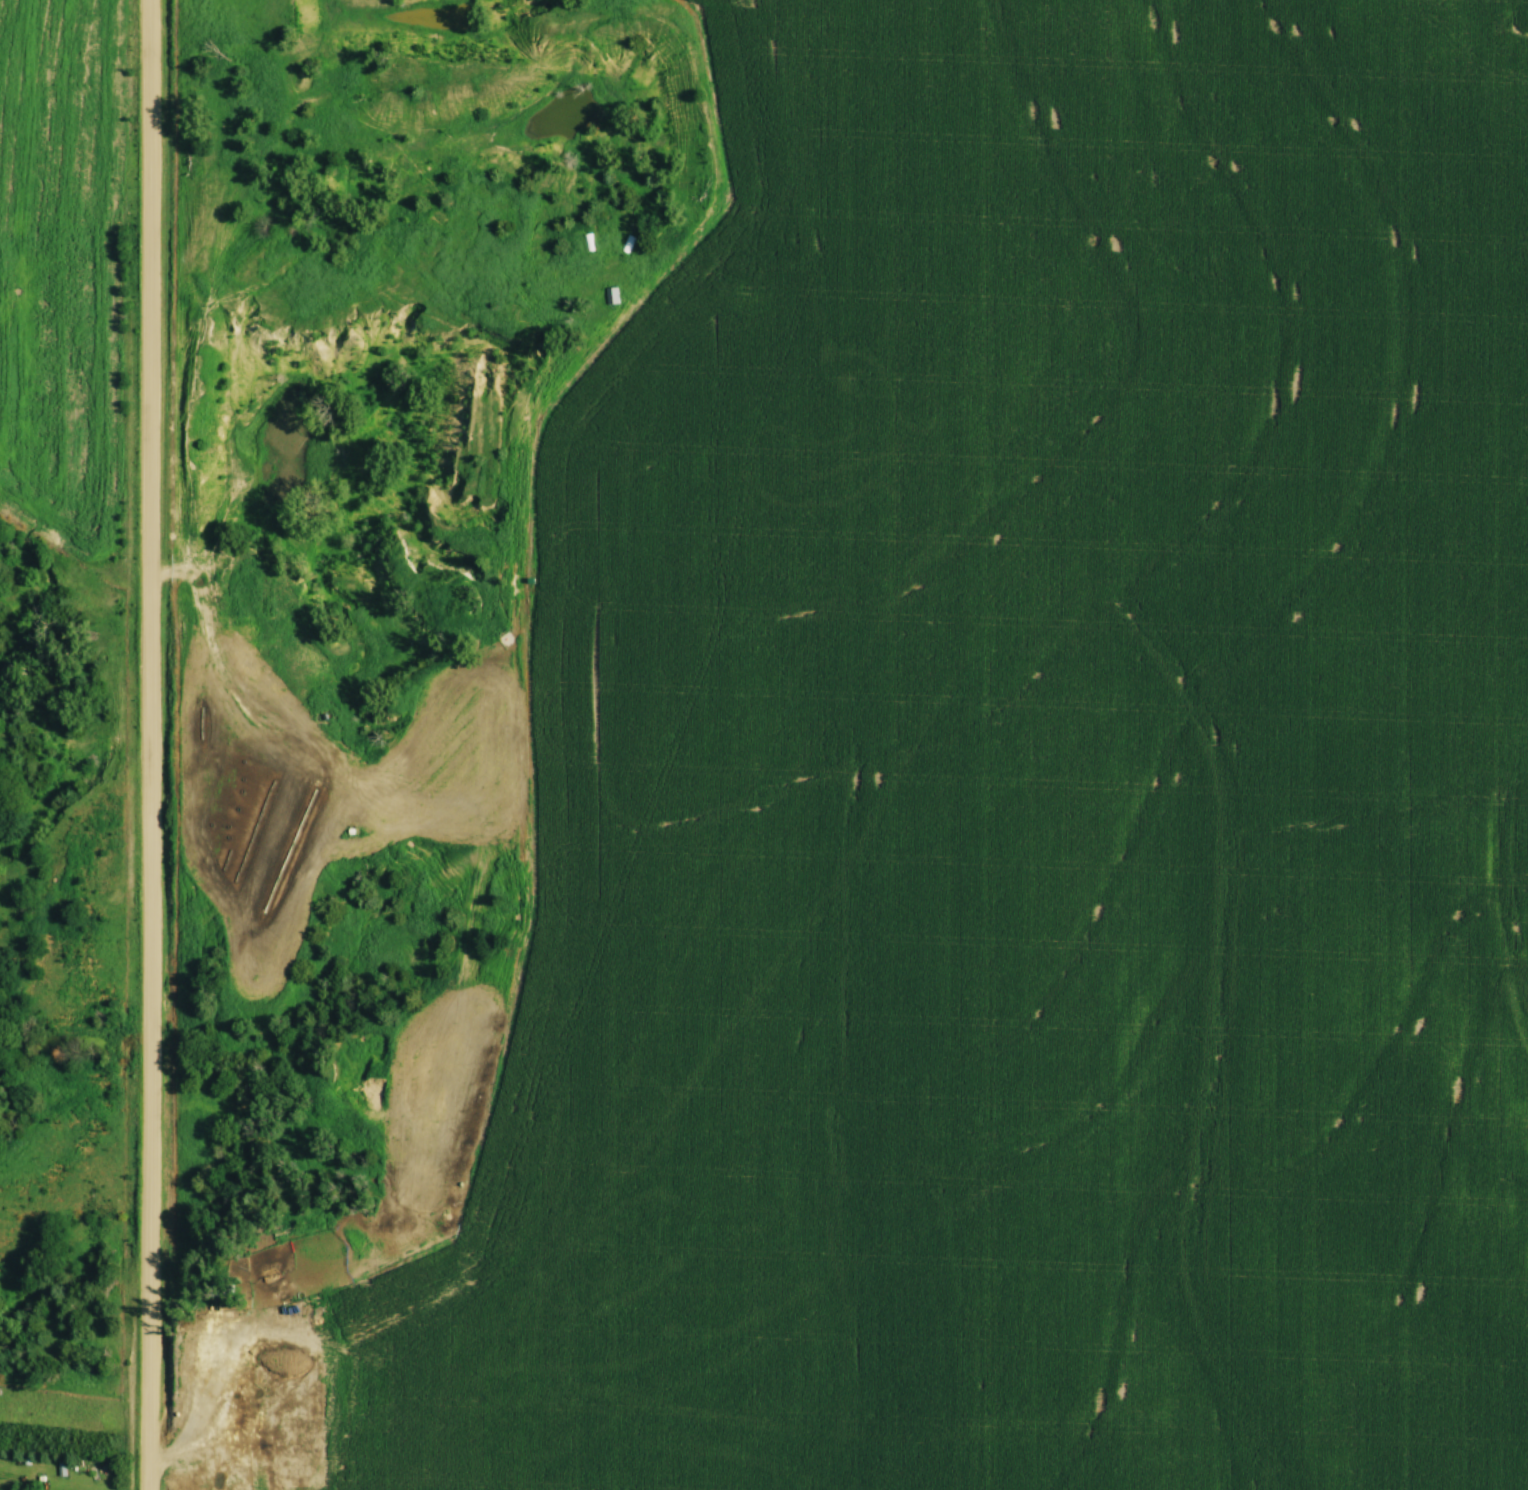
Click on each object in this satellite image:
road: (150, 745)

